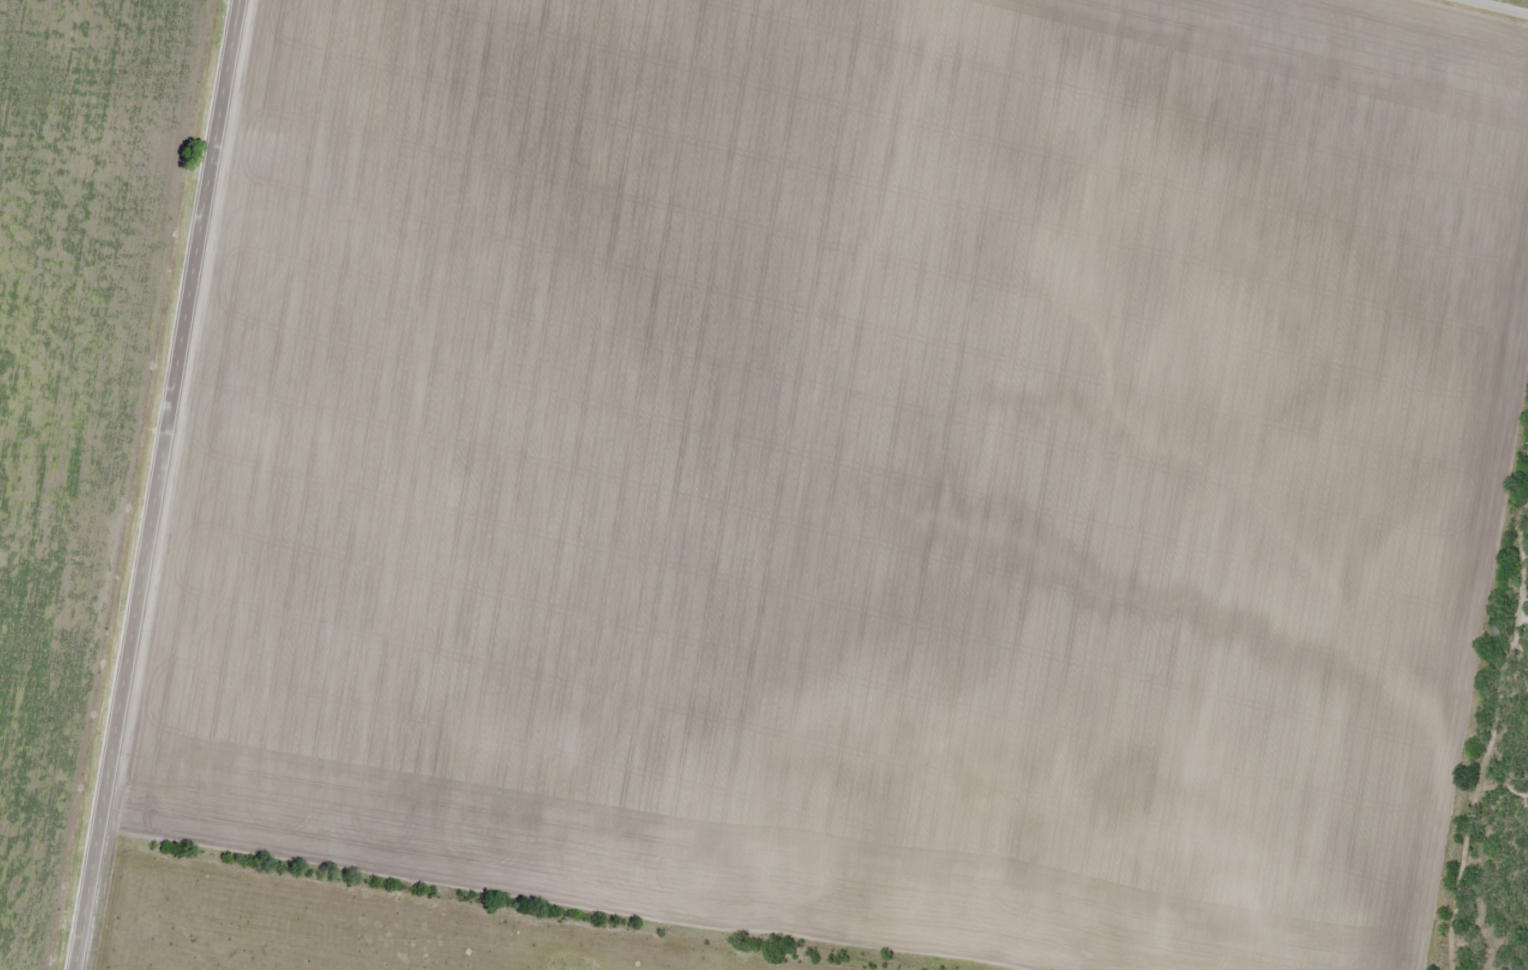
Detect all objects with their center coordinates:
road: (1507, 4)
road: (157, 484)

